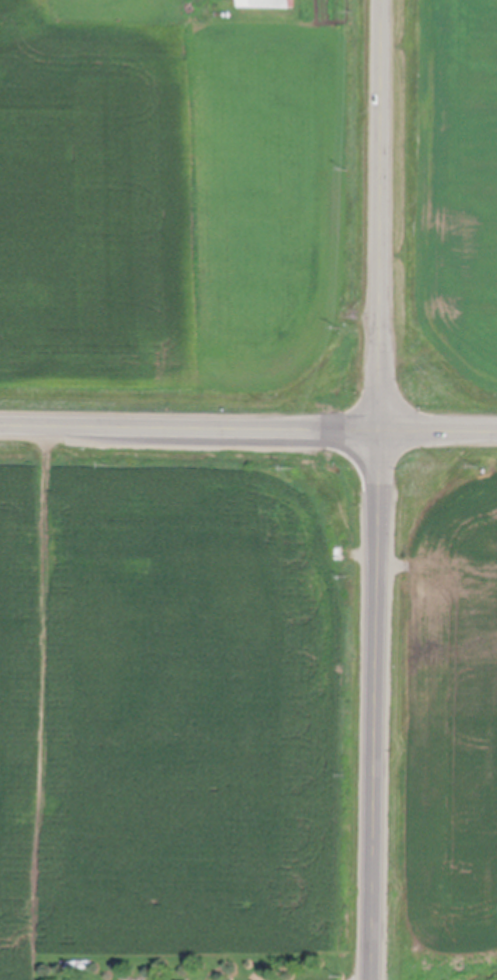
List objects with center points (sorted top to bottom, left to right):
building: (269, 1)
road: (248, 432)
road: (381, 490)

